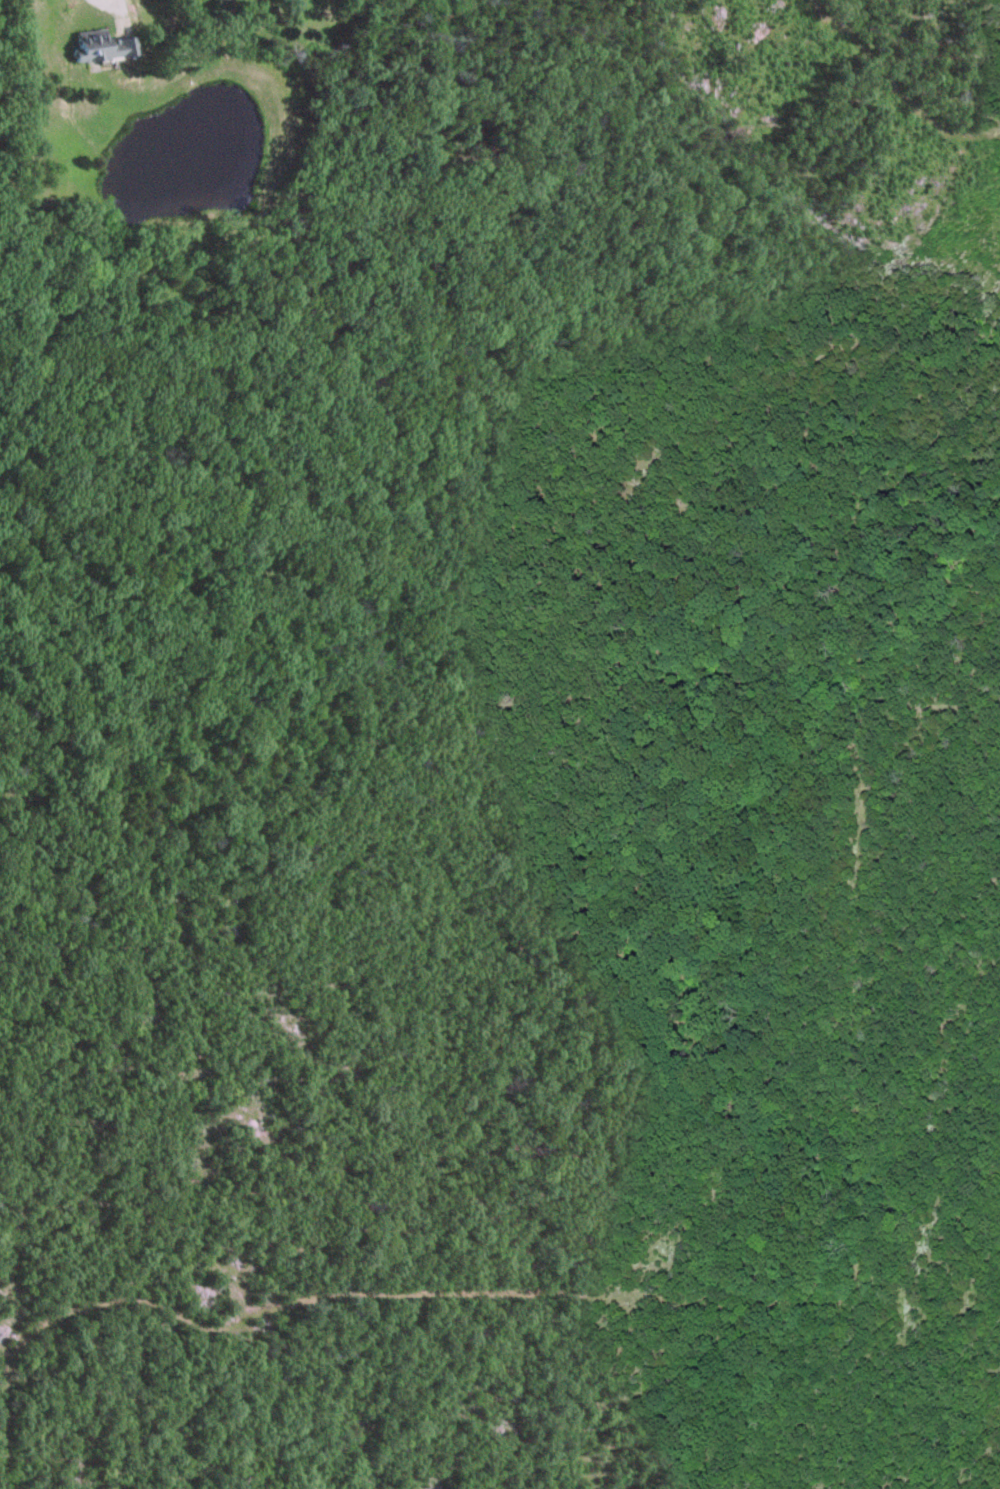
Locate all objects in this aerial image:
building: (99, 48)

